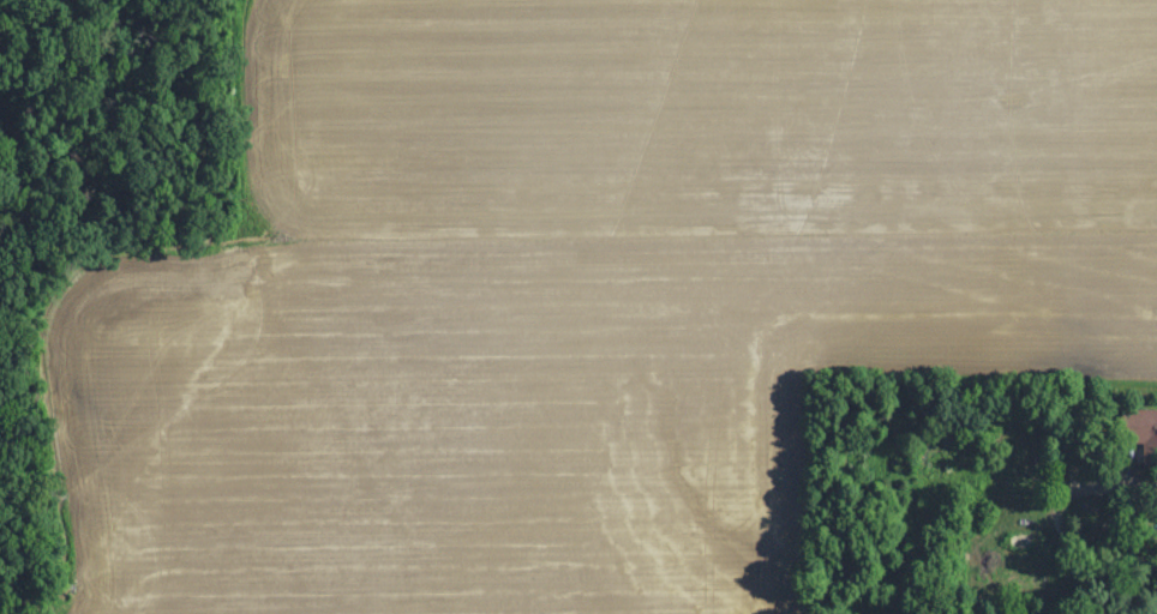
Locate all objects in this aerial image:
building: (1152, 422)

